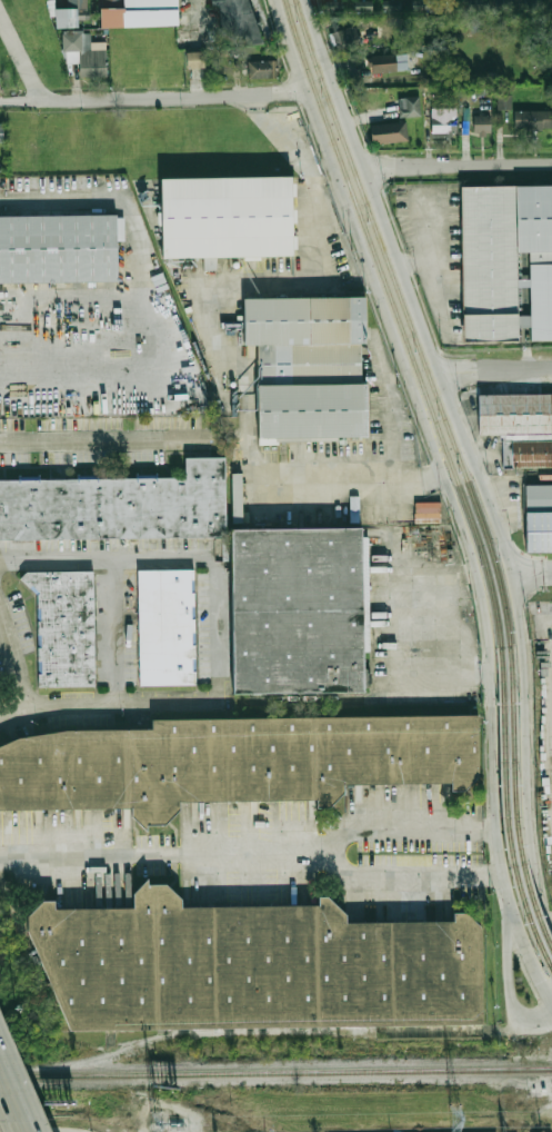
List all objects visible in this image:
building: (334, 4)
building: (362, 4)
building: (392, 4)
building: (479, 4)
building: (533, 4)
building: (504, 6)
building: (139, 12)
building: (72, 13)
building: (235, 20)
building: (480, 23)
building: (345, 38)
building: (86, 54)
road: (21, 58)
building: (194, 59)
building: (389, 62)
building: (262, 69)
road: (151, 97)
building: (503, 101)
building: (413, 106)
building: (532, 120)
building: (443, 123)
building: (482, 123)
building: (1, 131)
building: (388, 132)
road: (319, 165)
road: (456, 165)
building: (225, 218)
building: (61, 247)
building: (505, 259)
road: (79, 306)
road: (159, 311)
road: (205, 314)
building: (304, 318)
railway: (398, 320)
railway: (407, 320)
road: (494, 370)
building: (311, 408)
road: (391, 416)
road: (425, 421)
building: (518, 426)
road: (101, 438)
road: (434, 473)
road: (476, 474)
building: (237, 496)
building: (538, 496)
building: (117, 505)
building: (426, 512)
building: (536, 532)
road: (107, 559)
road: (469, 568)
road: (429, 573)
road: (531, 574)
building: (297, 609)
building: (168, 625)
building: (66, 626)
road: (214, 626)
road: (109, 628)
road: (397, 651)
road: (14, 659)
road: (106, 698)
building: (233, 761)
railway: (513, 804)
railway: (503, 816)
road: (404, 827)
road: (161, 855)
road: (408, 877)
road: (545, 918)
road: (522, 933)
road: (506, 957)
building: (253, 965)
road: (540, 1022)
road: (453, 1031)
road: (220, 1034)
railway: (275, 1073)
road: (12, 1102)
power tower: (455, 1116)
power tower: (154, 1122)

